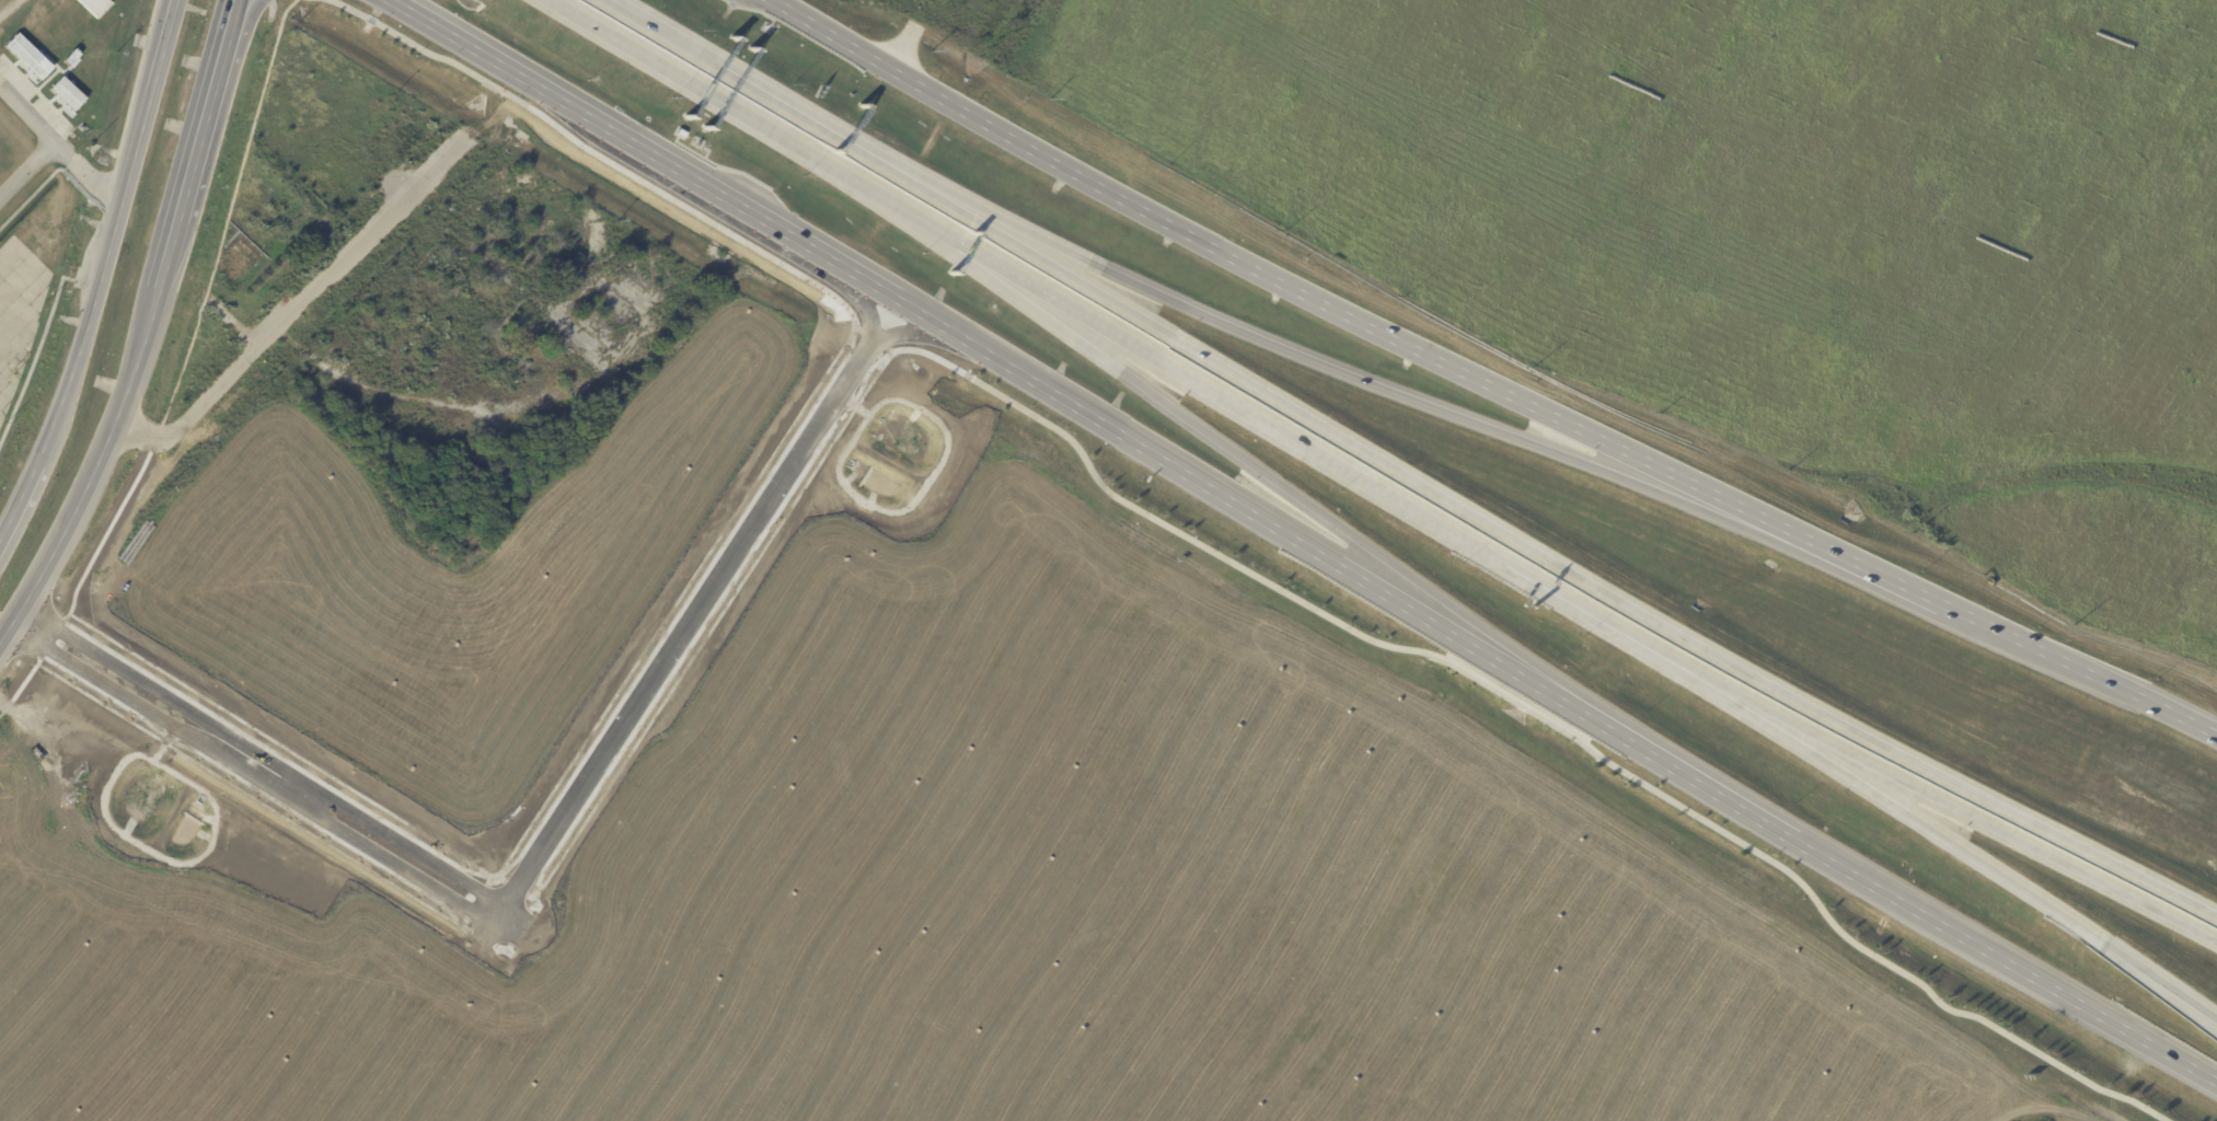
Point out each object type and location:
building: (93, 5)
road: (8, 7)
road: (236, 14)
road: (229, 15)
building: (25, 55)
road: (503, 62)
road: (744, 80)
building: (65, 92)
road: (705, 92)
road: (148, 100)
road: (200, 125)
road: (50, 146)
road: (85, 172)
road: (728, 196)
road: (168, 254)
road: (873, 281)
road: (1269, 281)
road: (863, 301)
road: (276, 330)
road: (912, 331)
road: (82, 332)
road: (1328, 367)
road: (1183, 374)
road: (1118, 428)
road: (1245, 458)
road: (90, 467)
road: (16, 500)
road: (1541, 553)
road: (1246, 570)
road: (1866, 570)
road: (1593, 615)
road: (685, 625)
road: (1482, 648)
road: (2078, 672)
road: (264, 753)
road: (252, 773)
road: (1711, 787)
road: (1949, 804)
road: (1949, 842)
road: (1962, 933)
road: (2172, 1051)

